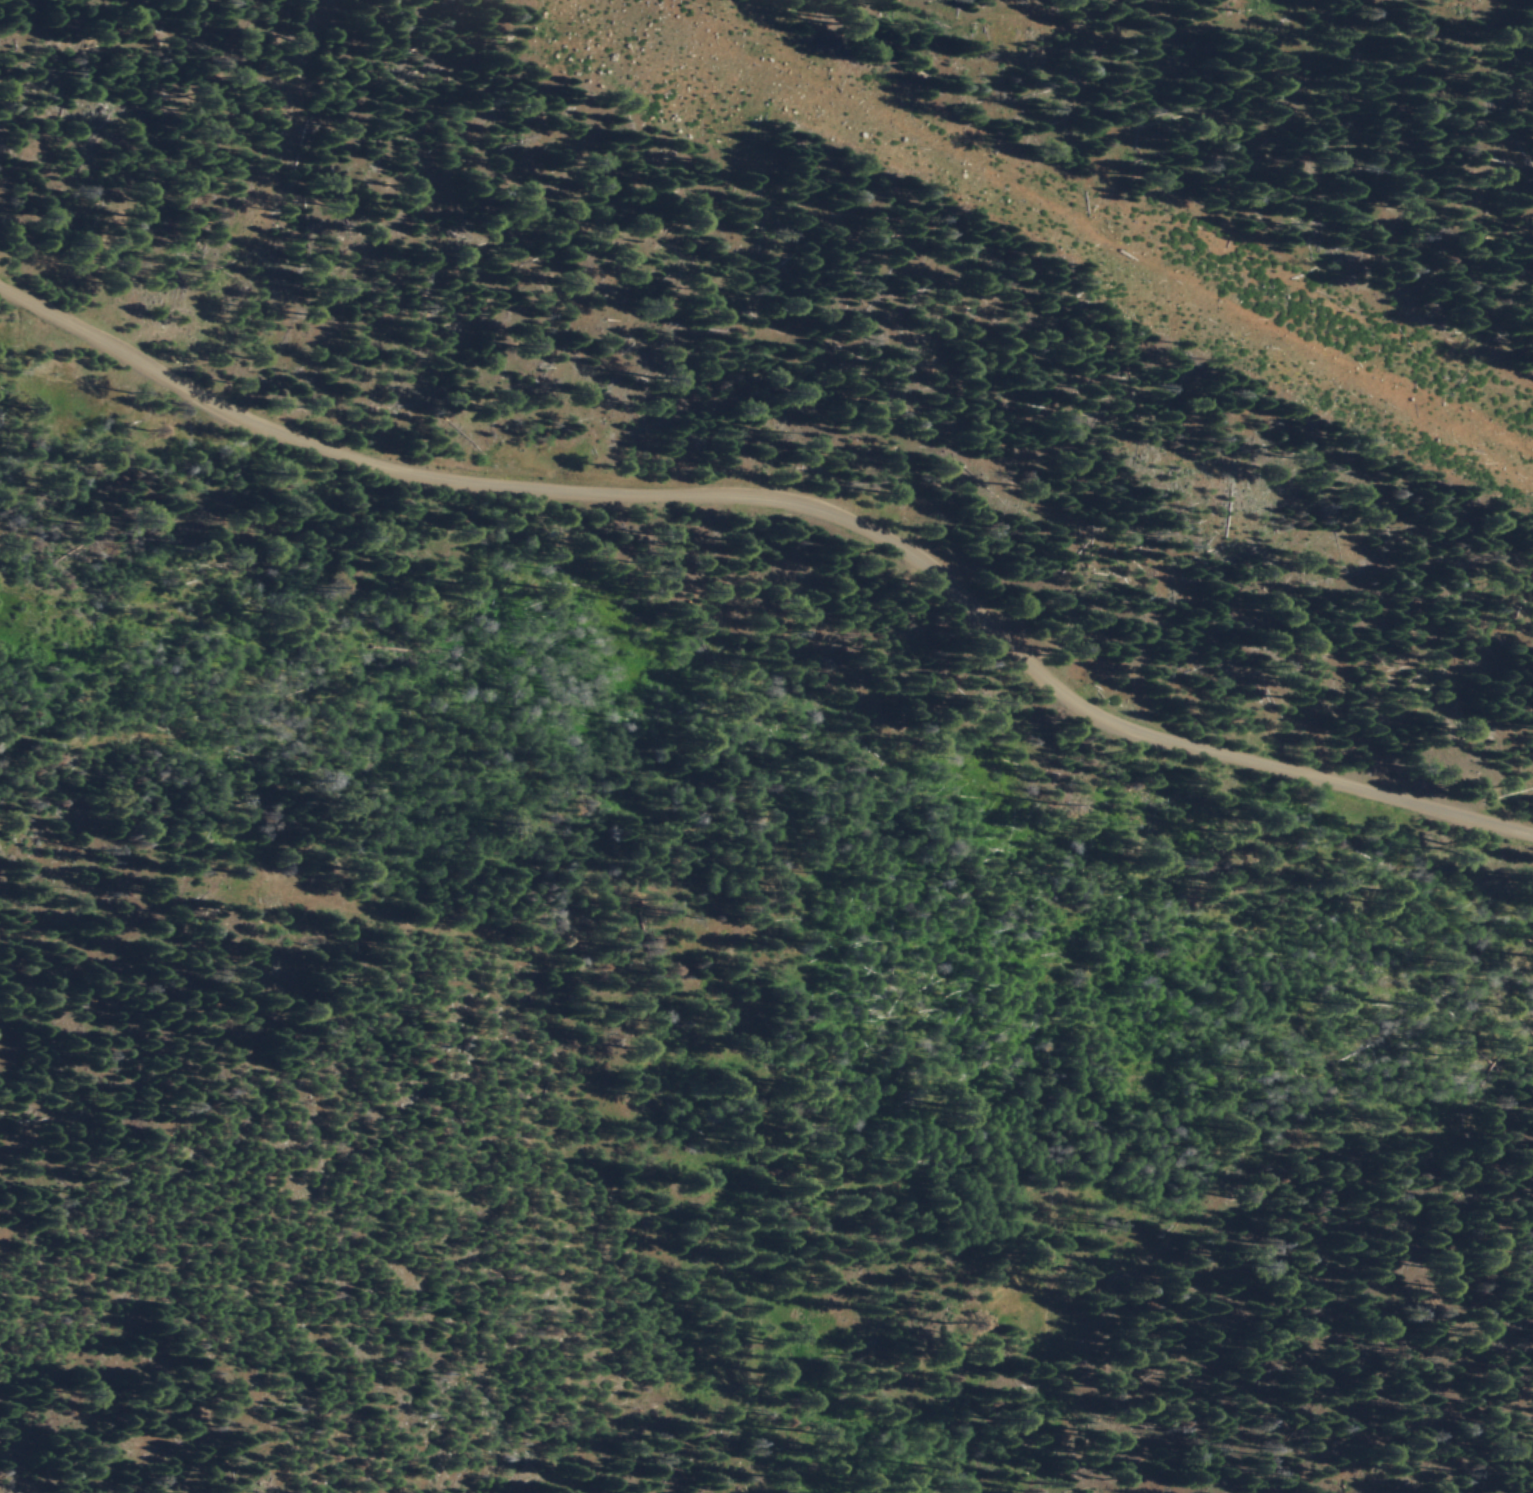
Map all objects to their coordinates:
road: (788, 502)
road: (702, 930)

